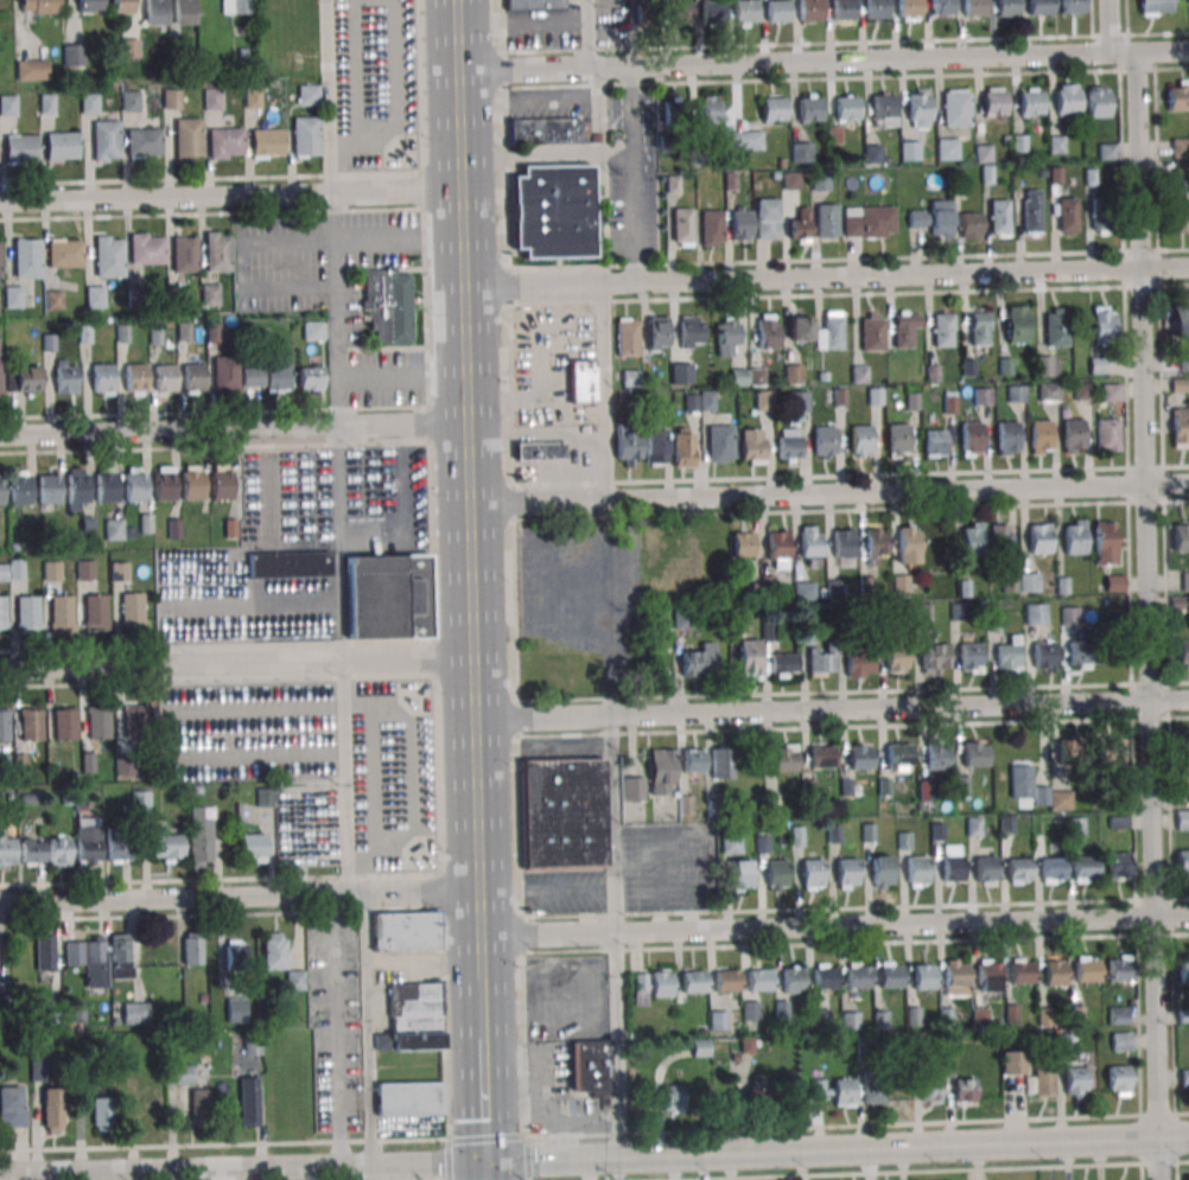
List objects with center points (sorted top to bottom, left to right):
building: (1188, 1)
building: (534, 4)
building: (39, 6)
building: (90, 6)
building: (122, 6)
building: (235, 6)
building: (1072, 6)
building: (1006, 7)
building: (1038, 7)
building: (1156, 7)
building: (184, 8)
building: (908, 8)
building: (941, 8)
building: (973, 8)
building: (809, 9)
building: (876, 9)
building: (844, 11)
building: (155, 12)
building: (744, 12)
building: (777, 12)
building: (680, 13)
building: (712, 13)
building: (644, 15)
road: (1108, 25)
road: (827, 43)
road: (1163, 50)
road: (1123, 51)
building: (72, 52)
road: (782, 62)
road: (592, 68)
building: (31, 69)
road: (846, 77)
building: (309, 95)
building: (252, 97)
building: (212, 98)
road: (328, 98)
building: (1178, 98)
building: (171, 100)
building: (131, 101)
building: (1067, 101)
building: (1099, 101)
building: (47, 103)
building: (89, 103)
building: (993, 103)
building: (1031, 103)
building: (8, 104)
building: (884, 107)
building: (708, 108)
building: (846, 109)
building: (918, 109)
building: (772, 110)
building: (808, 110)
building: (955, 110)
building: (543, 130)
building: (187, 136)
building: (306, 136)
building: (744, 140)
building: (104, 141)
building: (144, 141)
building: (225, 142)
building: (267, 142)
building: (62, 146)
building: (1180, 147)
building: (21, 148)
building: (947, 148)
building: (909, 149)
building: (801, 152)
building: (872, 153)
road: (543, 155)
road: (631, 174)
road: (394, 196)
road: (165, 199)
building: (554, 211)
building: (1178, 211)
building: (1031, 212)
building: (1100, 215)
building: (1067, 216)
building: (941, 217)
building: (999, 218)
building: (916, 219)
building: (765, 221)
building: (869, 221)
building: (826, 222)
building: (740, 224)
building: (969, 225)
building: (681, 227)
building: (799, 227)
building: (710, 229)
road: (281, 242)
building: (147, 248)
building: (217, 250)
building: (64, 253)
building: (184, 254)
building: (108, 256)
building: (27, 257)
road: (721, 262)
road: (824, 278)
building: (209, 294)
road: (848, 294)
building: (12, 296)
building: (95, 296)
building: (53, 299)
building: (389, 304)
road: (333, 313)
building: (1182, 320)
building: (1016, 324)
building: (1102, 325)
building: (800, 326)
building: (979, 326)
building: (1056, 326)
building: (905, 329)
building: (942, 329)
building: (312, 330)
building: (829, 330)
building: (691, 331)
building: (768, 331)
building: (871, 331)
building: (657, 333)
building: (627, 337)
building: (727, 337)
building: (1183, 361)
building: (1098, 364)
building: (1005, 365)
building: (1048, 365)
building: (225, 374)
building: (680, 374)
building: (859, 374)
road: (398, 377)
building: (756, 377)
building: (24, 378)
building: (266, 378)
building: (310, 378)
building: (630, 378)
building: (737, 378)
building: (102, 379)
building: (135, 379)
building: (165, 379)
building: (192, 379)
building: (583, 381)
building: (65, 382)
road: (603, 390)
building: (1082, 391)
building: (1048, 393)
building: (1111, 393)
building: (1015, 394)
building: (838, 396)
building: (981, 396)
building: (706, 401)
building: (762, 401)
building: (911, 401)
building: (689, 402)
building: (796, 402)
building: (1181, 427)
road: (400, 429)
road: (167, 433)
road: (539, 434)
building: (1072, 435)
building: (1107, 435)
building: (971, 436)
building: (1039, 436)
building: (1006, 438)
building: (860, 439)
building: (897, 439)
building: (824, 441)
building: (934, 442)
building: (719, 444)
building: (751, 445)
building: (787, 445)
building: (654, 446)
building: (627, 448)
building: (541, 449)
building: (681, 451)
building: (192, 486)
building: (221, 486)
building: (163, 487)
building: (106, 489)
building: (135, 489)
building: (49, 490)
building: (77, 490)
road: (465, 490)
building: (19, 491)
road: (827, 491)
building: (1, 492)
building: (114, 529)
building: (1074, 536)
building: (998, 537)
building: (1039, 537)
building: (973, 538)
building: (1181, 540)
building: (1105, 542)
building: (875, 543)
building: (908, 543)
building: (808, 544)
building: (841, 544)
building: (742, 546)
building: (776, 547)
building: (290, 565)
building: (17, 569)
building: (51, 570)
building: (85, 570)
building: (4, 572)
building: (1185, 581)
building: (901, 583)
building: (803, 591)
building: (389, 595)
road: (605, 606)
building: (132, 610)
building: (95, 611)
building: (27, 612)
building: (61, 612)
building: (2, 613)
building: (1035, 613)
road: (1149, 614)
road: (373, 643)
building: (1183, 652)
building: (1081, 653)
building: (1009, 655)
building: (1041, 655)
building: (971, 656)
building: (749, 658)
building: (934, 658)
building: (821, 659)
road: (341, 661)
building: (700, 661)
building: (896, 662)
road: (236, 663)
building: (783, 664)
building: (859, 664)
road: (77, 684)
road: (831, 709)
building: (134, 723)
building: (64, 725)
building: (97, 726)
building: (4, 727)
building: (30, 727)
building: (1070, 748)
building: (1112, 751)
building: (1187, 752)
building: (975, 754)
building: (821, 755)
building: (859, 757)
building: (897, 757)
building: (936, 757)
building: (784, 758)
building: (694, 759)
building: (723, 761)
building: (663, 771)
building: (1023, 780)
building: (632, 787)
building: (1054, 798)
building: (140, 801)
building: (564, 812)
building: (1183, 819)
building: (1075, 827)
building: (201, 835)
building: (87, 841)
building: (731, 843)
building: (166, 844)
building: (253, 847)
building: (117, 849)
building: (58, 850)
building: (32, 851)
building: (7, 853)
building: (1183, 863)
building: (1118, 865)
building: (952, 869)
building: (1051, 869)
building: (1085, 869)
building: (916, 870)
building: (985, 870)
building: (1018, 870)
building: (845, 872)
building: (882, 872)
building: (810, 874)
building: (739, 875)
building: (775, 875)
road: (239, 894)
road: (833, 926)
building: (406, 931)
road: (615, 936)
building: (192, 949)
building: (275, 950)
building: (45, 952)
building: (236, 955)
building: (121, 956)
building: (90, 959)
building: (1183, 968)
building: (1119, 971)
building: (1086, 972)
building: (1020, 974)
building: (987, 975)
building: (1054, 975)
building: (955, 976)
building: (889, 977)
building: (857, 978)
building: (923, 978)
building: (295, 980)
building: (824, 980)
building: (725, 982)
building: (758, 982)
building: (790, 983)
building: (693, 984)
building: (661, 987)
building: (4, 989)
road: (481, 1008)
building: (236, 1009)
building: (751, 1009)
building: (135, 1013)
building: (1118, 1015)
building: (414, 1018)
building: (819, 1018)
building: (718, 1020)
road: (367, 1027)
road: (336, 1028)
building: (1120, 1041)
building: (252, 1047)
building: (1012, 1061)
building: (590, 1065)
building: (40, 1069)
building: (179, 1074)
building: (1043, 1077)
building: (1184, 1078)
building: (1119, 1079)
building: (1075, 1082)
building: (132, 1085)
building: (819, 1087)
building: (930, 1089)
building: (857, 1091)
building: (965, 1091)
building: (409, 1097)
road: (354, 1098)
building: (672, 1098)
building: (763, 1098)
road: (484, 1099)
building: (249, 1101)
building: (12, 1106)
building: (201, 1106)
building: (53, 1109)
building: (153, 1110)
building: (103, 1114)
road: (838, 1149)
road: (243, 1168)
road: (487, 1171)
building: (1187, 1176)

